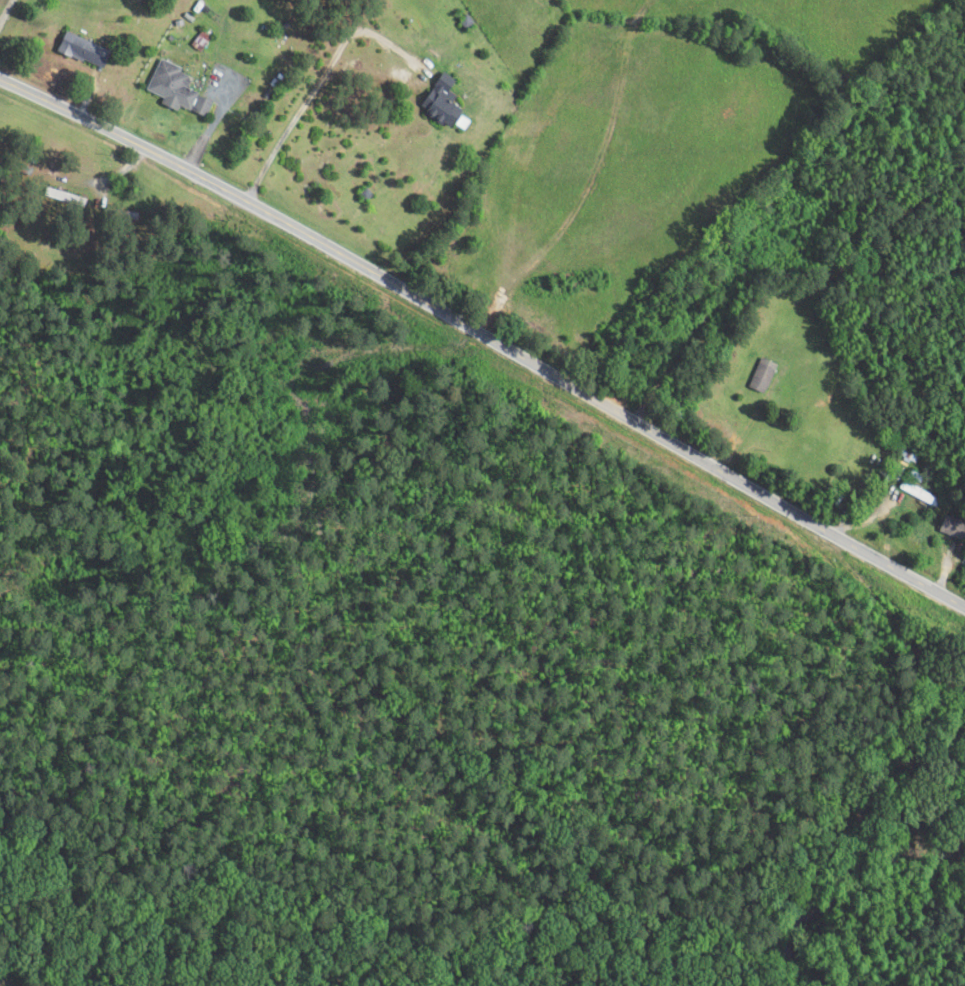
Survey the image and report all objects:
building: (86, 50)
building: (178, 89)
building: (440, 101)
building: (68, 197)
road: (489, 320)
building: (762, 375)
building: (953, 527)

